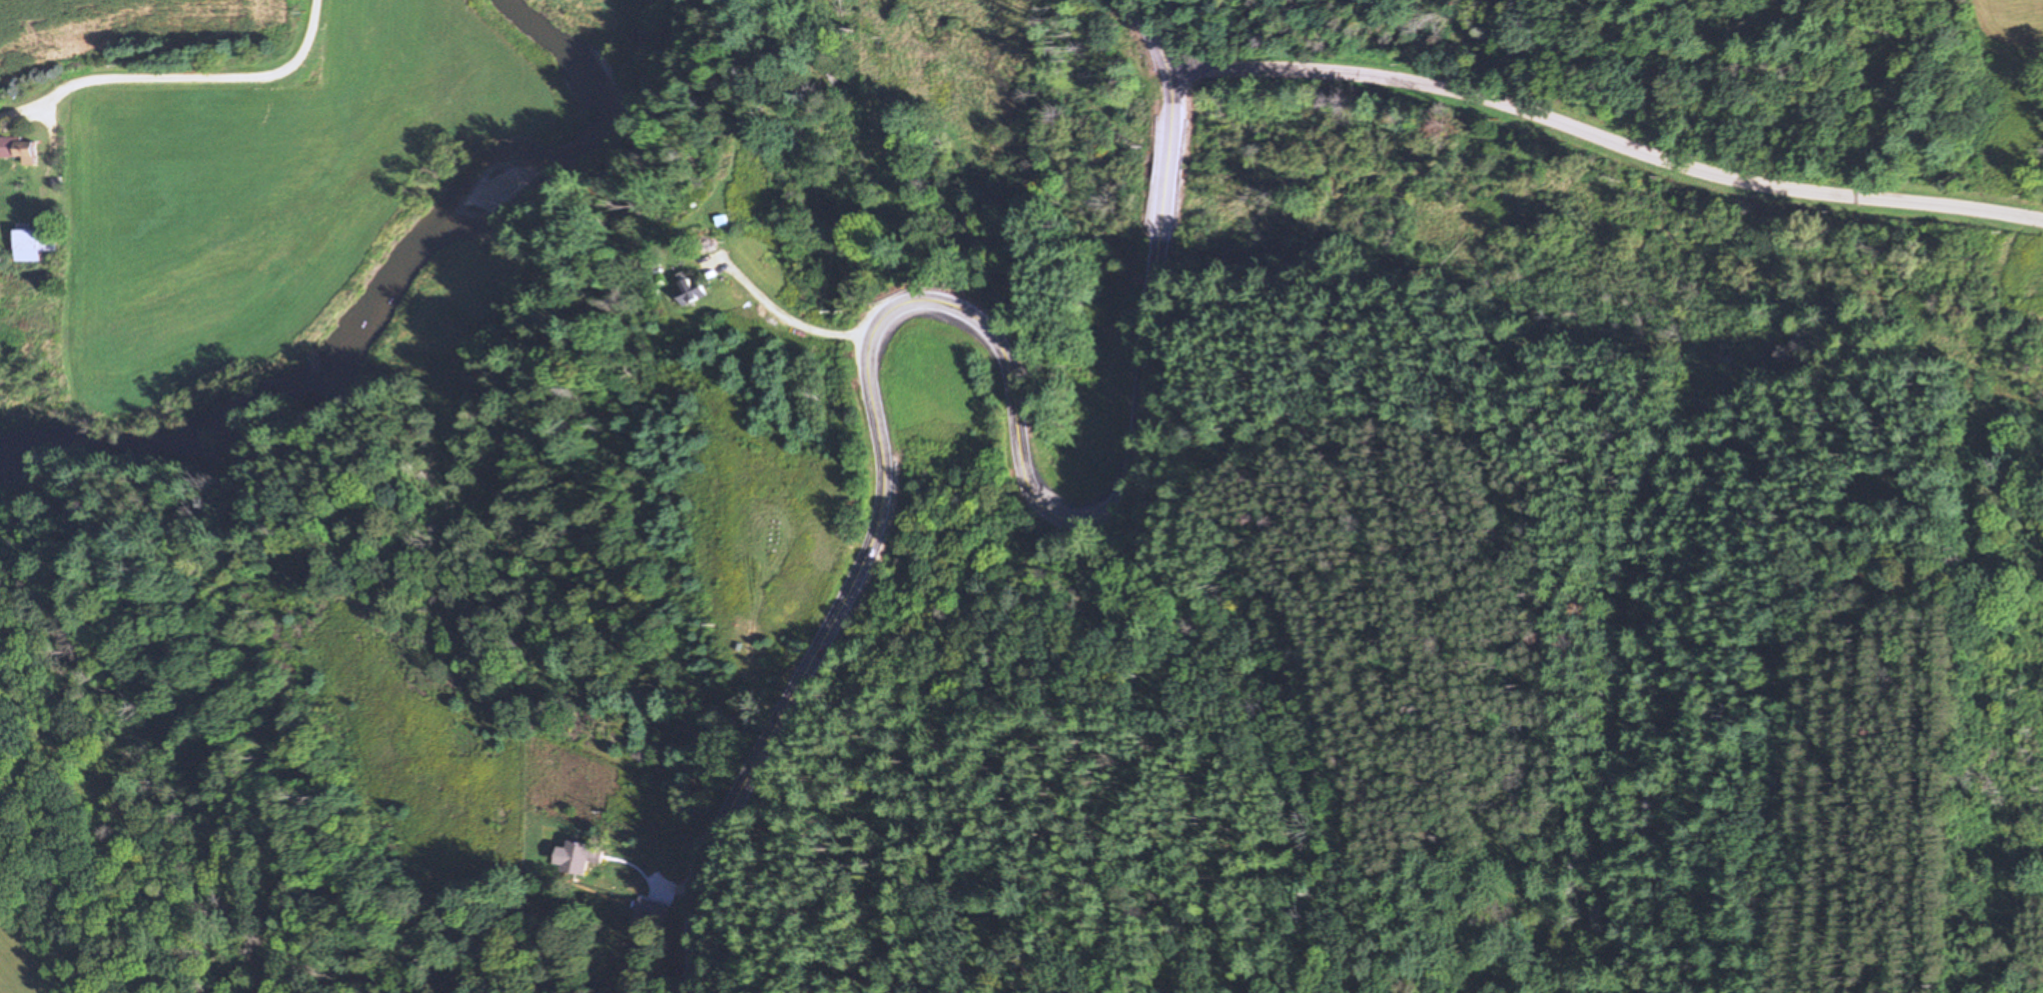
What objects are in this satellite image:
road: (222, 82)
road: (1607, 142)
building: (19, 149)
building: (34, 245)
building: (691, 292)
river: (400, 294)
road: (970, 313)
road: (779, 316)
building: (584, 859)
road: (1377, 899)
building: (650, 912)

